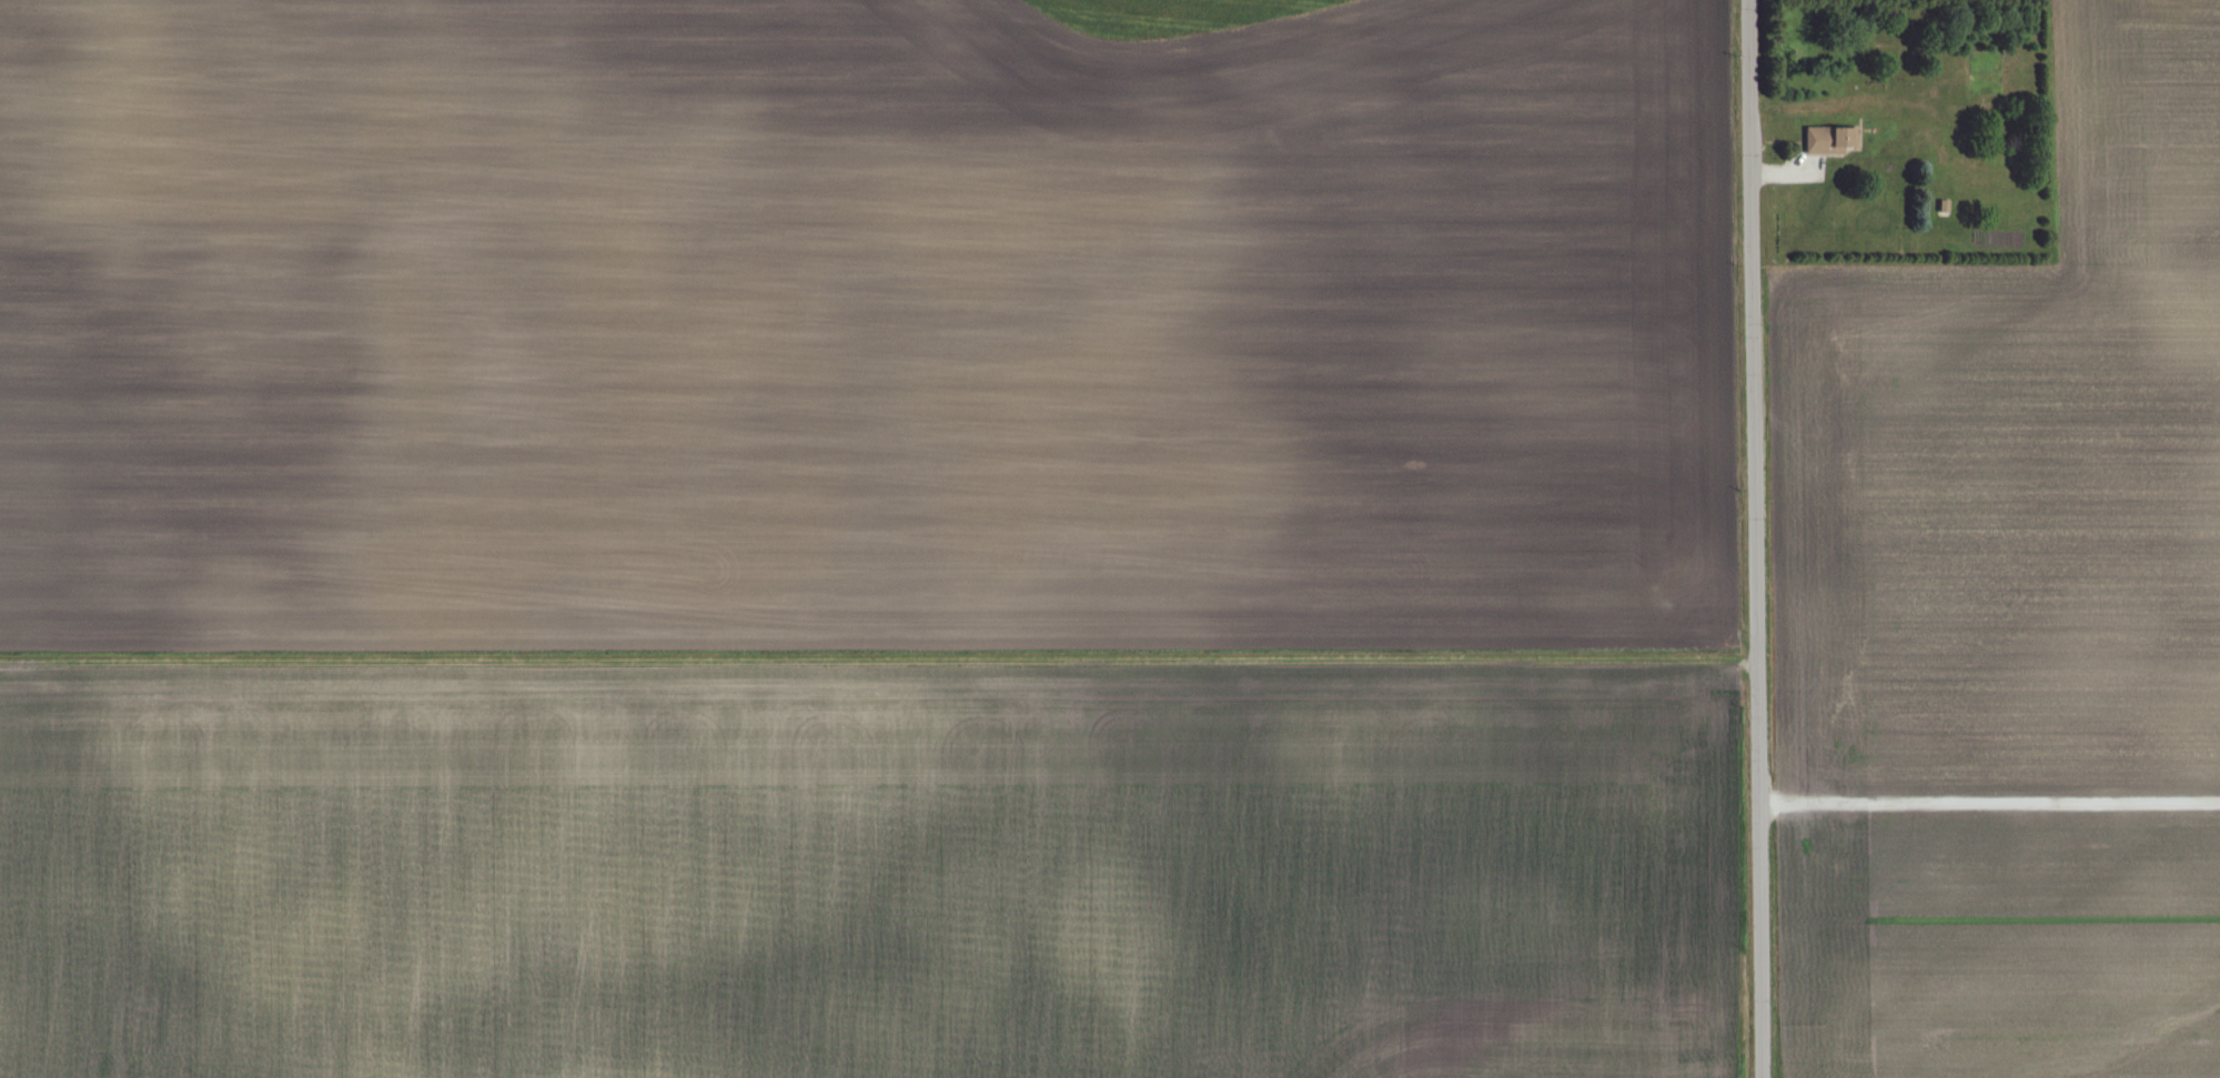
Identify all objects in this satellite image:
building: (1828, 138)
road: (1752, 538)
road: (1988, 800)

